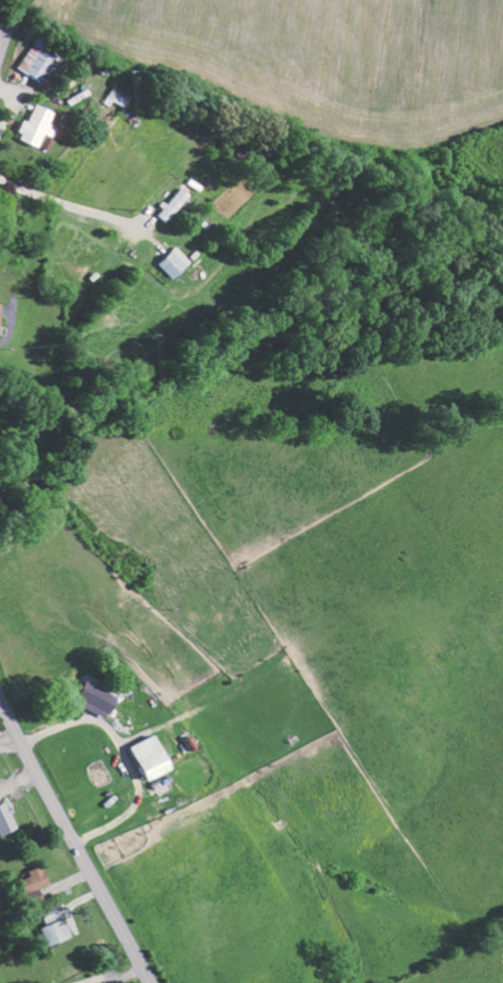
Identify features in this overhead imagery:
road: (8, 25)
building: (42, 59)
building: (118, 97)
building: (37, 126)
building: (174, 204)
building: (176, 262)
building: (1, 317)
building: (101, 699)
building: (155, 757)
building: (7, 820)
road: (73, 841)
building: (36, 879)
building: (57, 932)
building: (105, 982)

